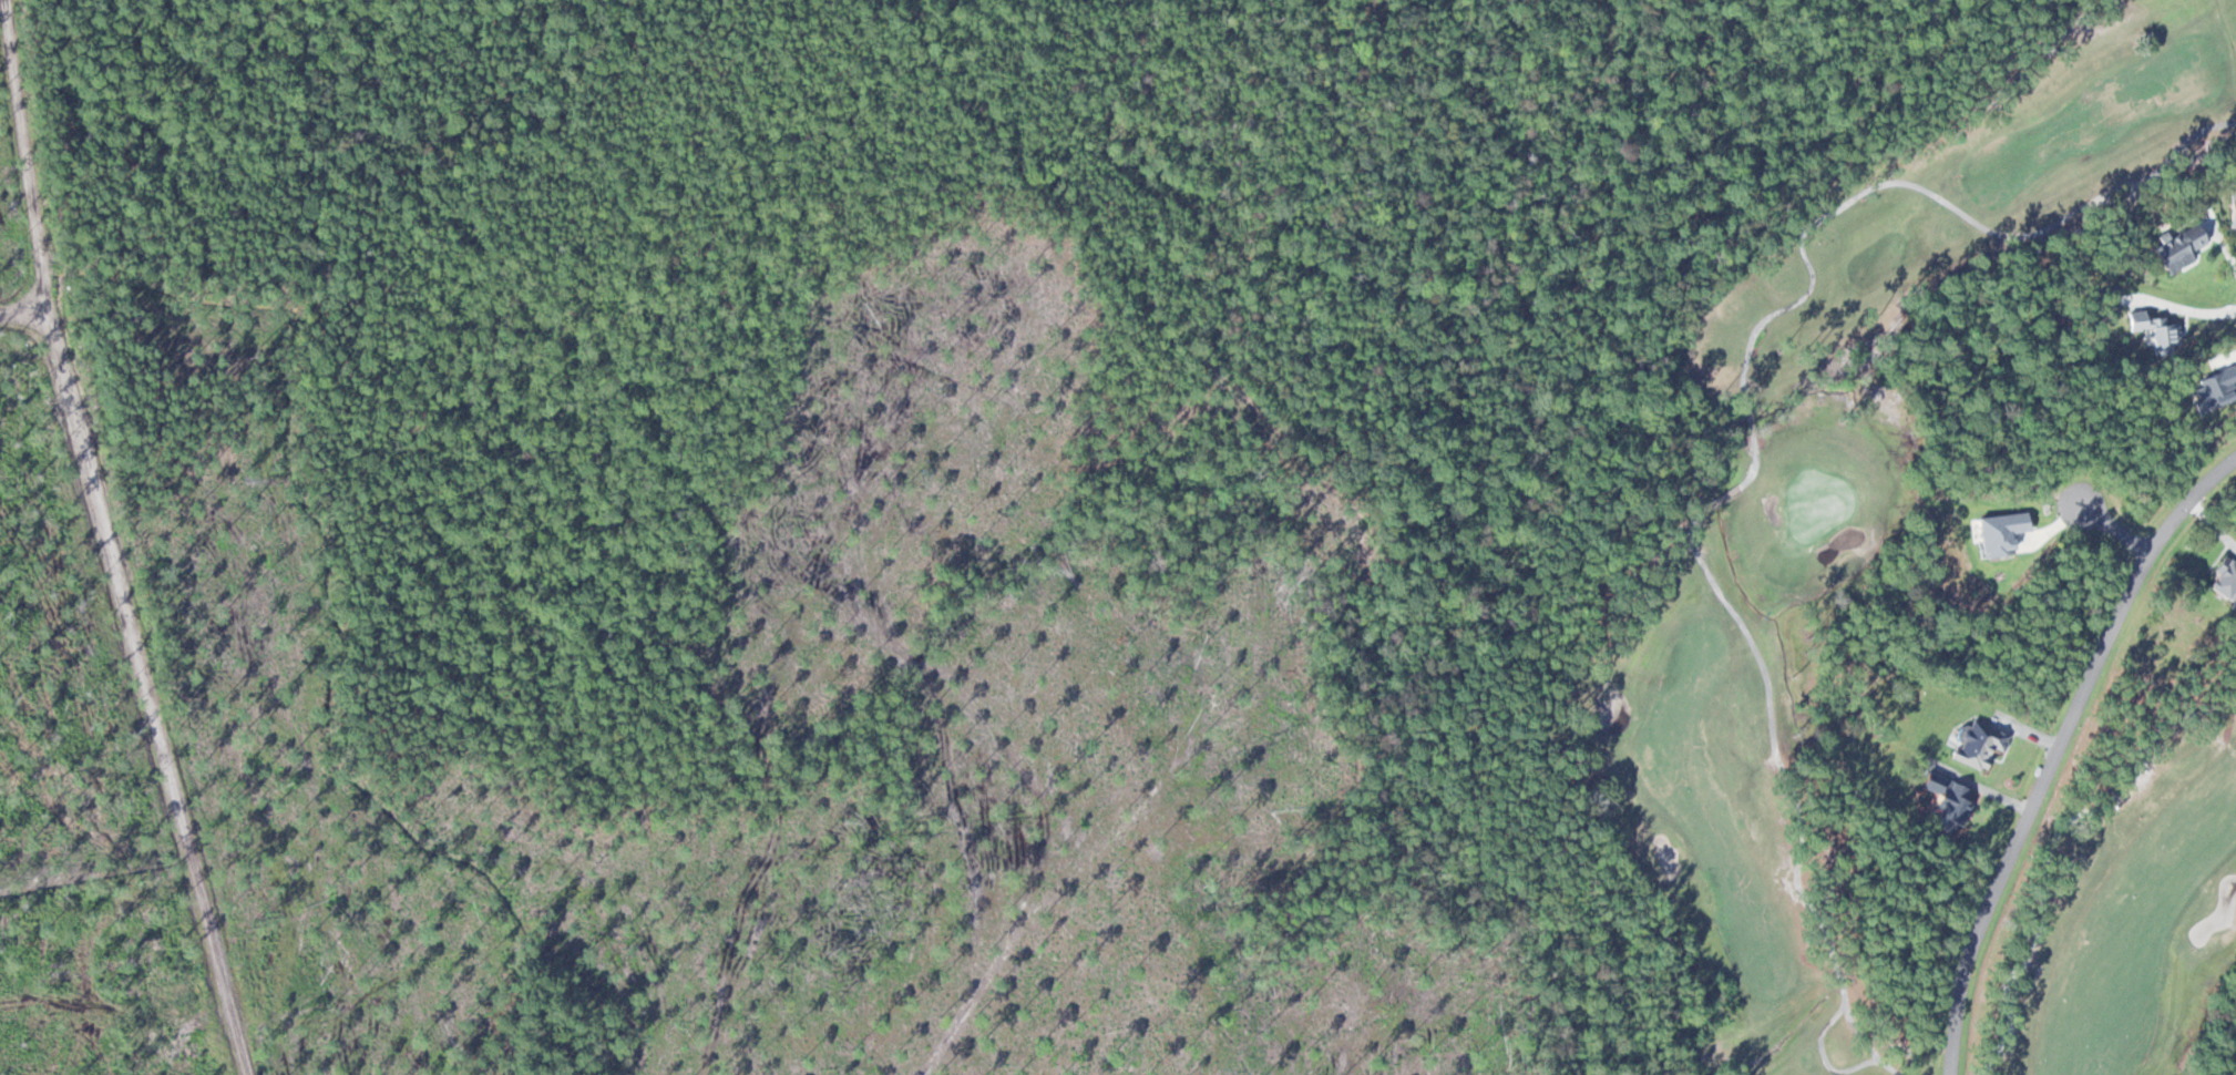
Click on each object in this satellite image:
building: (2233, 207)
building: (2178, 245)
building: (2162, 336)
road: (38, 393)
road: (1755, 455)
road: (2114, 526)
road: (135, 536)
building: (2225, 579)
building: (1978, 743)
road: (2056, 750)
building: (1948, 799)
road: (2053, 841)

